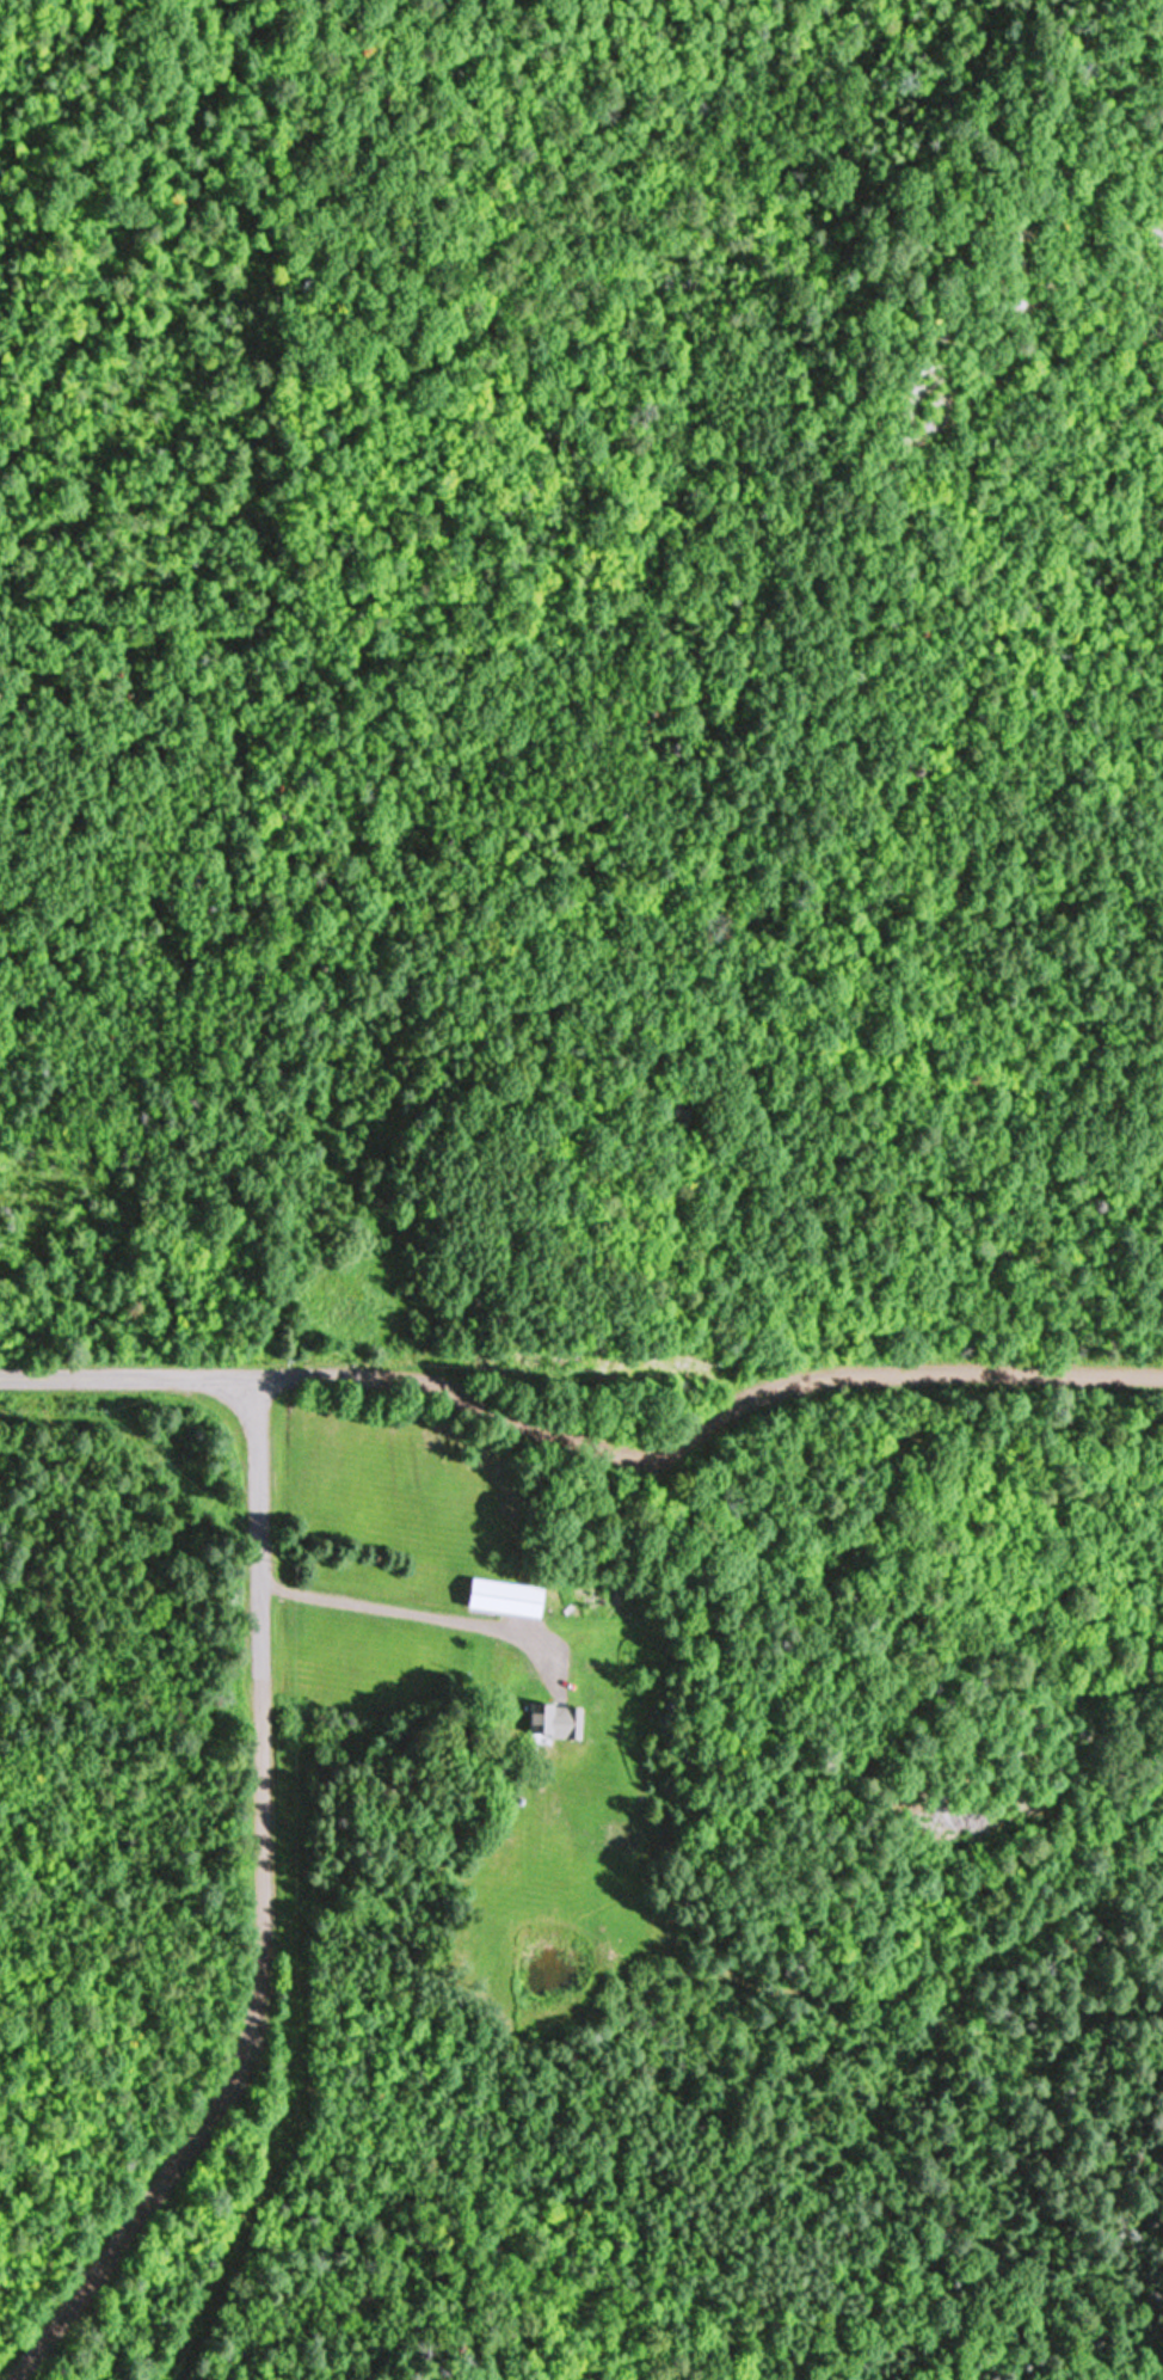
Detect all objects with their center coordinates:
road: (581, 1375)
building: (498, 1599)
building: (547, 1720)
road: (234, 1872)

